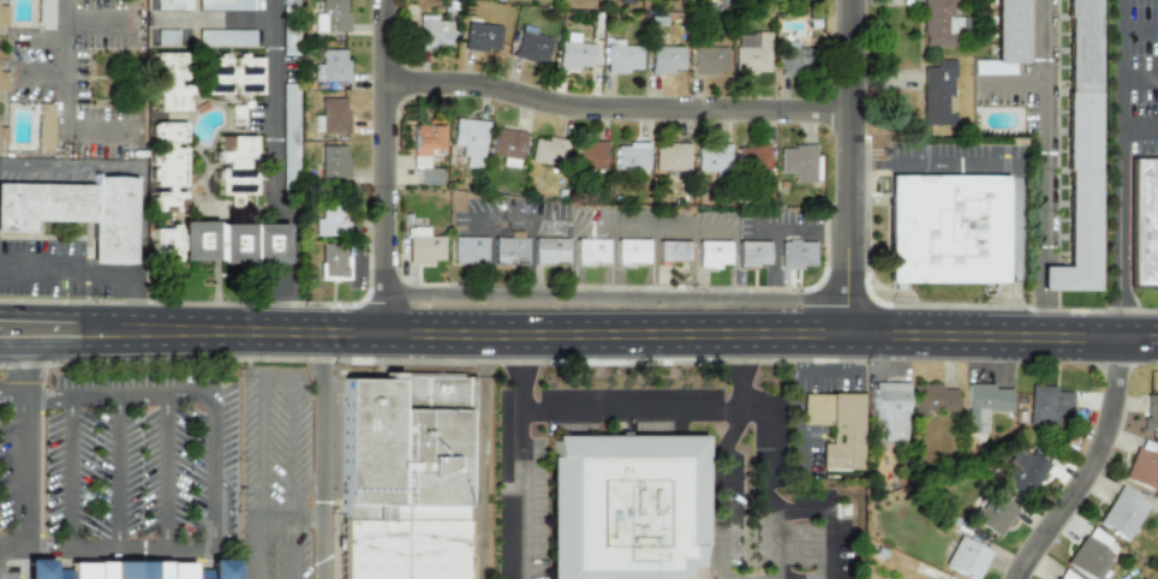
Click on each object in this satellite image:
building: (2, 13)
building: (44, 14)
building: (332, 17)
road: (95, 18)
road: (213, 19)
building: (937, 23)
building: (432, 31)
road: (1139, 31)
building: (482, 37)
building: (1005, 38)
building: (531, 46)
building: (574, 53)
building: (751, 53)
building: (622, 58)
building: (665, 59)
building: (709, 59)
building: (794, 59)
building: (332, 66)
road: (61, 67)
road: (38, 72)
parking lot: (35, 74)
building: (232, 74)
park: (117, 77)
road: (1139, 77)
parking lot: (78, 78)
building: (2, 80)
building: (169, 82)
building: (937, 94)
road: (614, 111)
building: (333, 115)
building: (46, 127)
road: (1139, 130)
road: (96, 135)
building: (2, 136)
building: (468, 141)
building: (506, 143)
building: (548, 150)
building: (424, 151)
building: (1079, 153)
building: (589, 154)
building: (631, 156)
building: (670, 156)
building: (712, 157)
building: (751, 157)
building: (333, 161)
building: (165, 165)
building: (234, 165)
road: (384, 165)
road: (1014, 165)
road: (846, 166)
road: (1045, 168)
road: (1121, 168)
road: (271, 173)
building: (78, 211)
building: (332, 219)
building: (1145, 221)
building: (945, 228)
building: (217, 243)
building: (423, 245)
building: (467, 249)
building: (508, 249)
building: (549, 250)
building: (670, 250)
building: (590, 251)
building: (631, 251)
building: (712, 252)
building: (751, 253)
building: (795, 253)
road: (96, 267)
road: (613, 297)
road: (37, 311)
road: (105, 318)
road: (646, 330)
road: (68, 345)
road: (515, 369)
road: (829, 375)
road: (276, 384)
road: (138, 393)
road: (43, 396)
road: (11, 398)
building: (932, 398)
road: (798, 404)
building: (983, 404)
building: (1046, 405)
road: (583, 407)
building: (890, 412)
building: (1150, 412)
road: (766, 426)
building: (836, 426)
road: (322, 454)
road: (23, 460)
road: (1084, 466)
building: (1142, 468)
road: (211, 470)
road: (117, 471)
road: (165, 471)
building: (1021, 471)
road: (65, 472)
building: (402, 477)
building: (623, 506)
building: (1122, 512)
building: (992, 513)
road: (292, 519)
road: (778, 545)
road: (118, 549)
building: (1090, 553)
building: (966, 557)
building: (127, 569)
building: (1064, 575)

